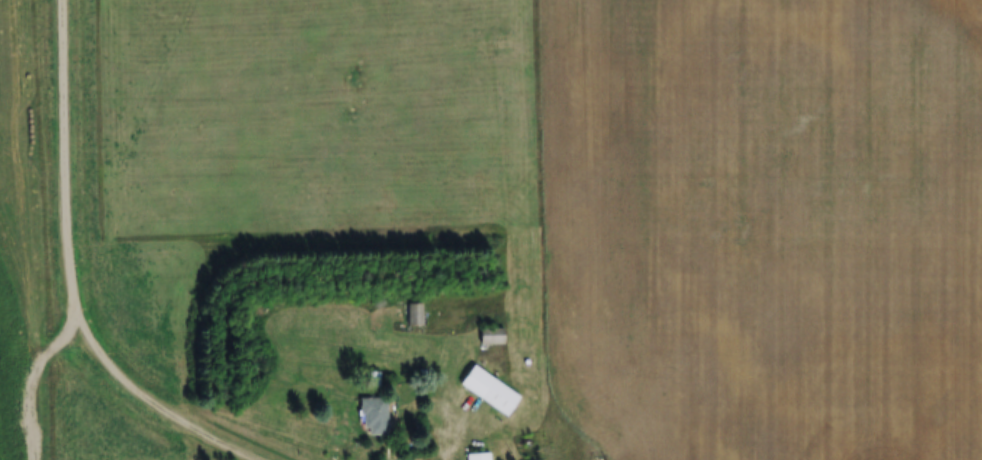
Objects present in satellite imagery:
road: (78, 277)
building: (412, 314)
building: (489, 336)
building: (372, 379)
building: (487, 391)
building: (372, 415)
road: (454, 433)
building: (477, 456)

